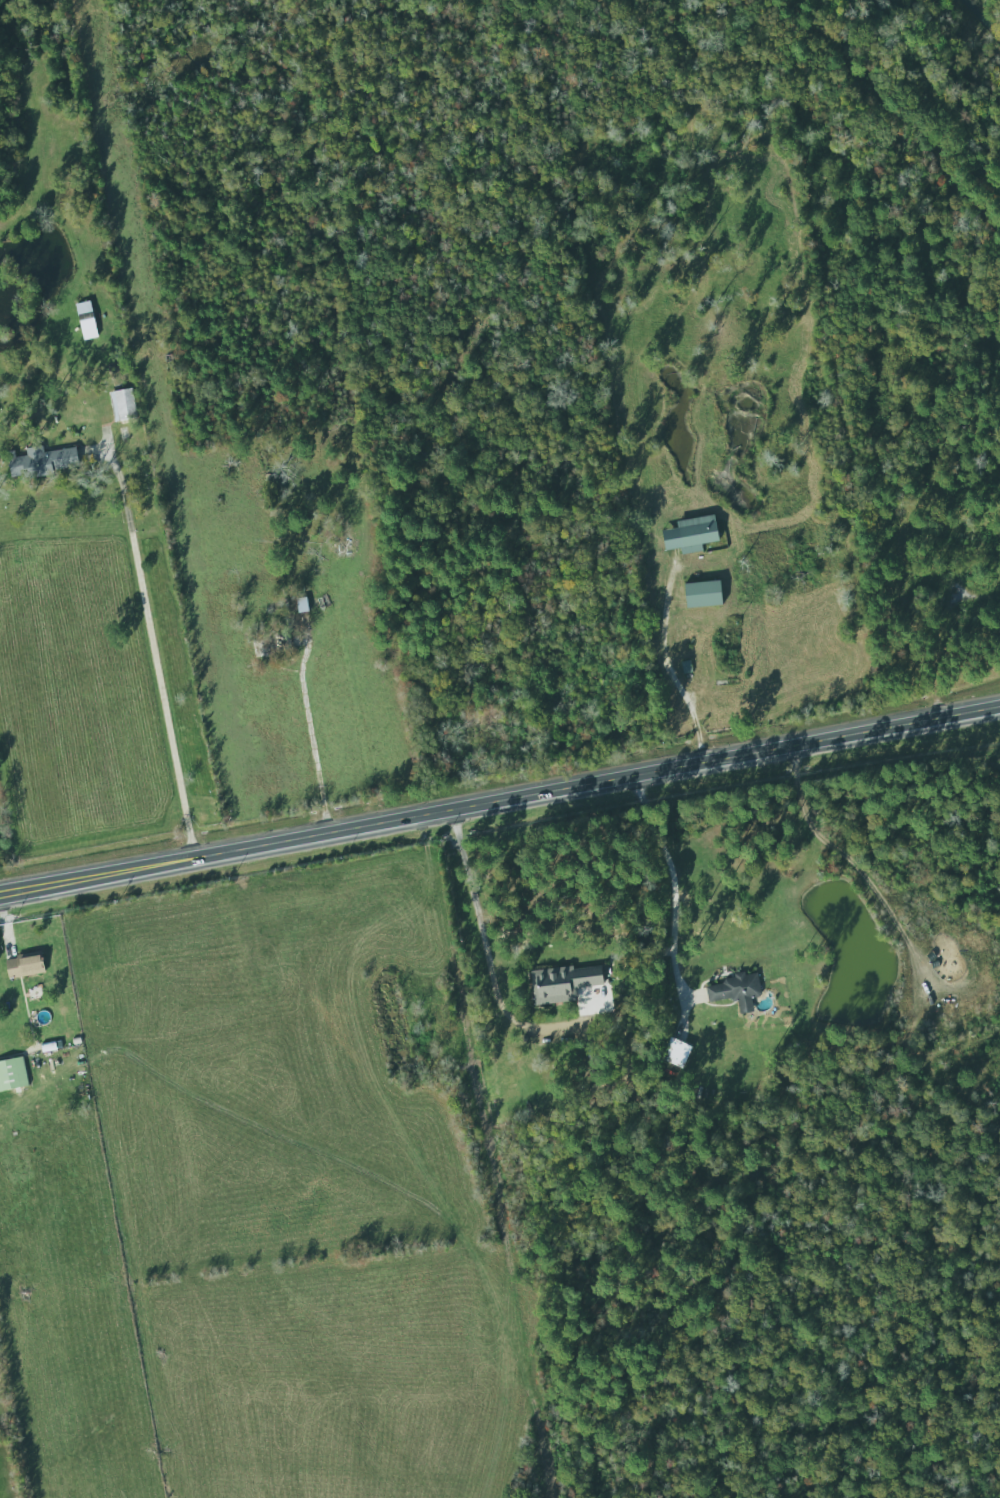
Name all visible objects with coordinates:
building: (86, 320)
building: (122, 405)
building: (42, 462)
building: (690, 535)
building: (702, 594)
road: (162, 647)
road: (665, 663)
road: (321, 727)
road: (500, 803)
road: (671, 887)
road: (480, 933)
building: (24, 966)
building: (569, 988)
building: (735, 991)
building: (12, 1074)

